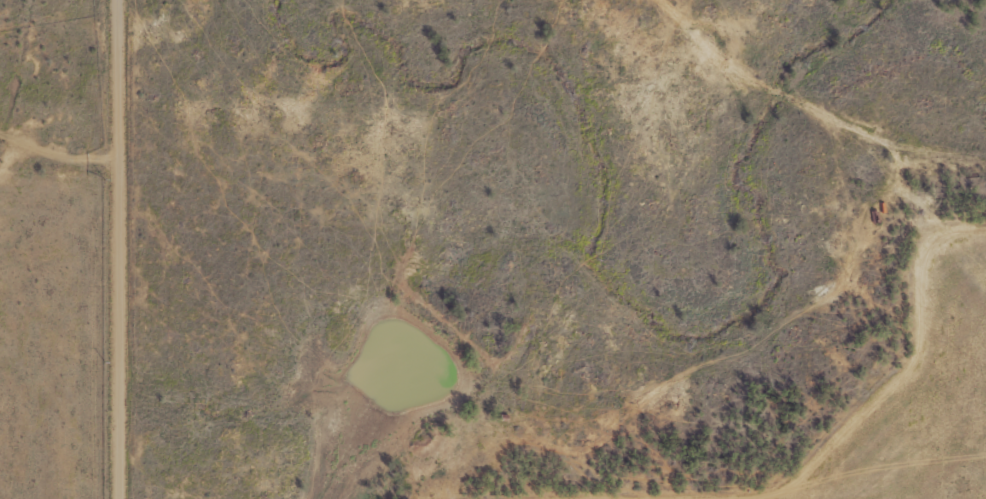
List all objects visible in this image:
road: (48, 189)
road: (96, 249)

